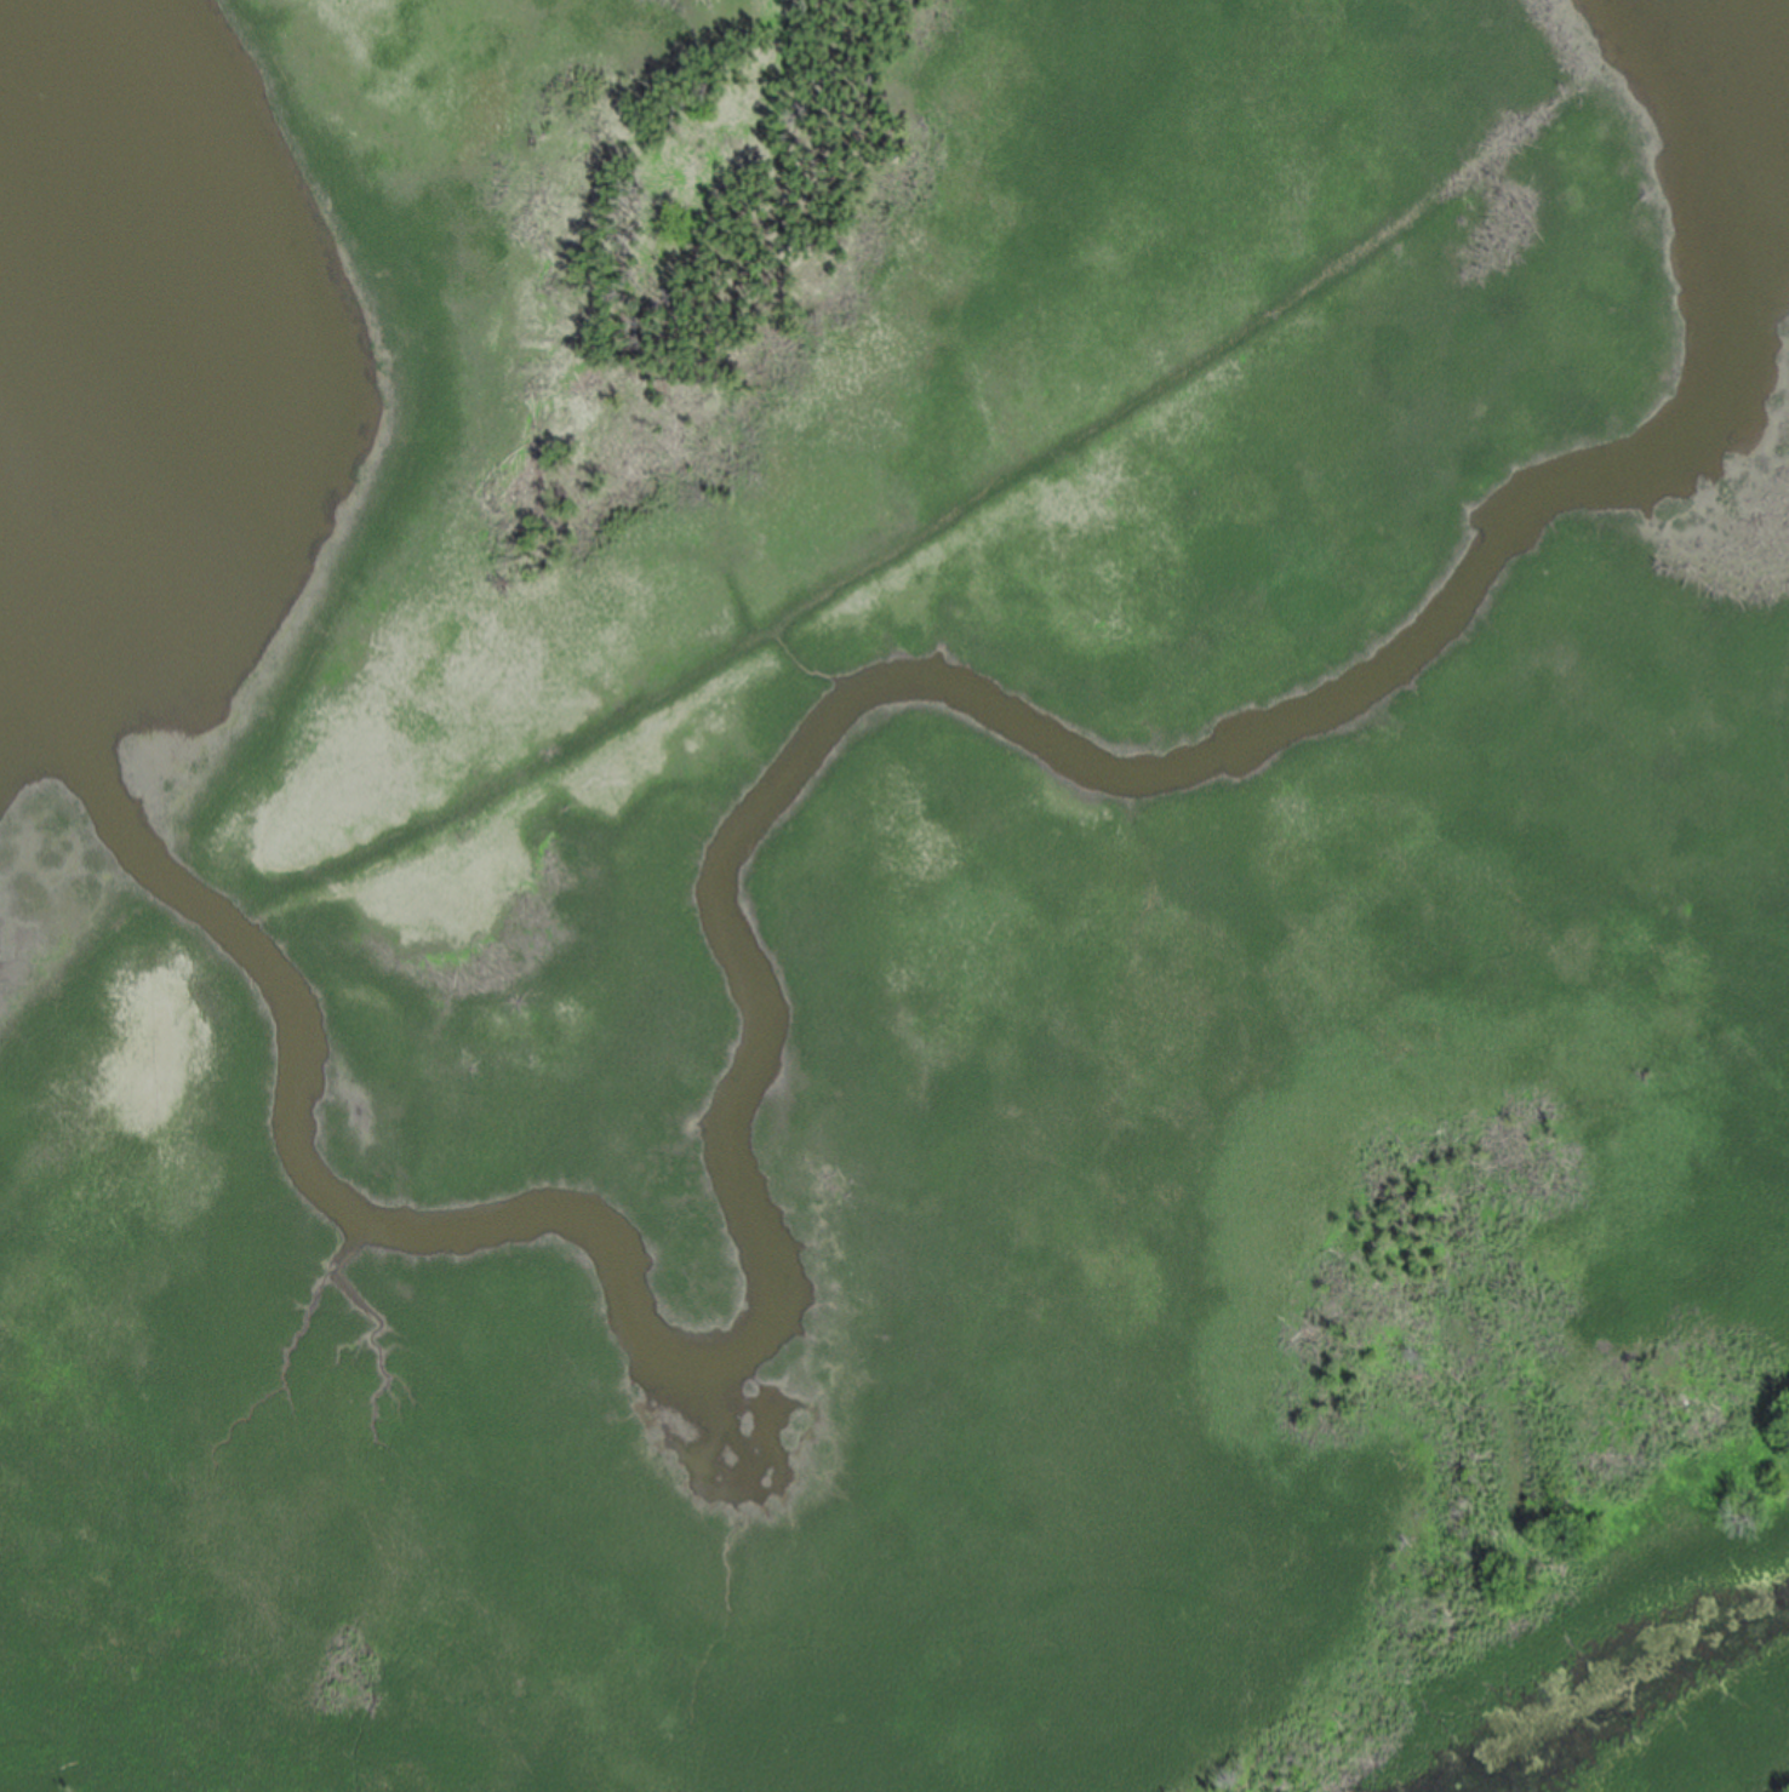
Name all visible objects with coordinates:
river: (1788, 74)
river: (1757, 426)
river: (55, 784)
river: (738, 1368)

